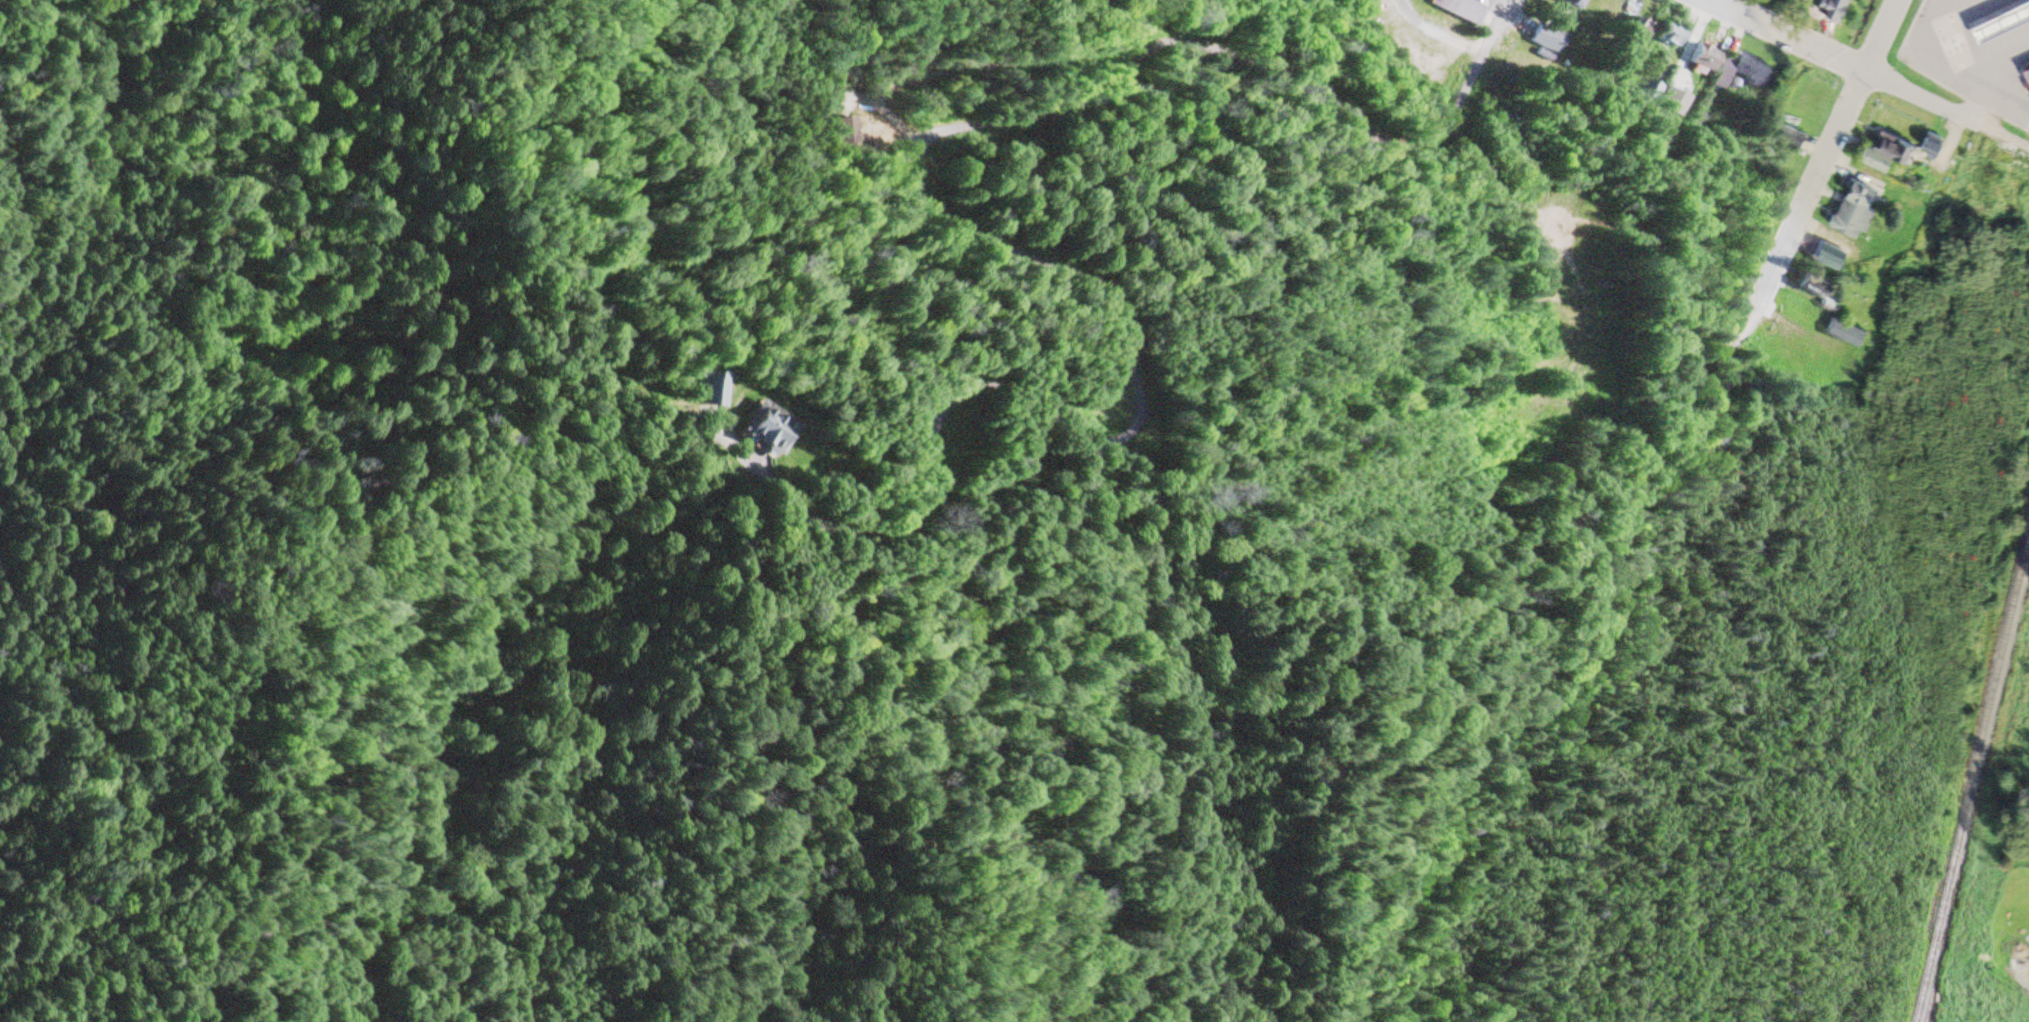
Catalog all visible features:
building: (1575, 3)
building: (1837, 8)
building: (1461, 9)
building: (2003, 21)
building: (1635, 30)
building: (1672, 34)
building: (1549, 38)
building: (1704, 57)
building: (2028, 67)
building: (1751, 68)
building: (2027, 71)
road: (1870, 75)
building: (1720, 79)
building: (1648, 91)
building: (1674, 101)
building: (1791, 136)
road: (1834, 138)
building: (1888, 153)
road: (1480, 173)
building: (1854, 219)
building: (1829, 253)
building: (1819, 287)
building: (1848, 334)
building: (770, 430)
road: (1522, 627)
railway: (1972, 781)

